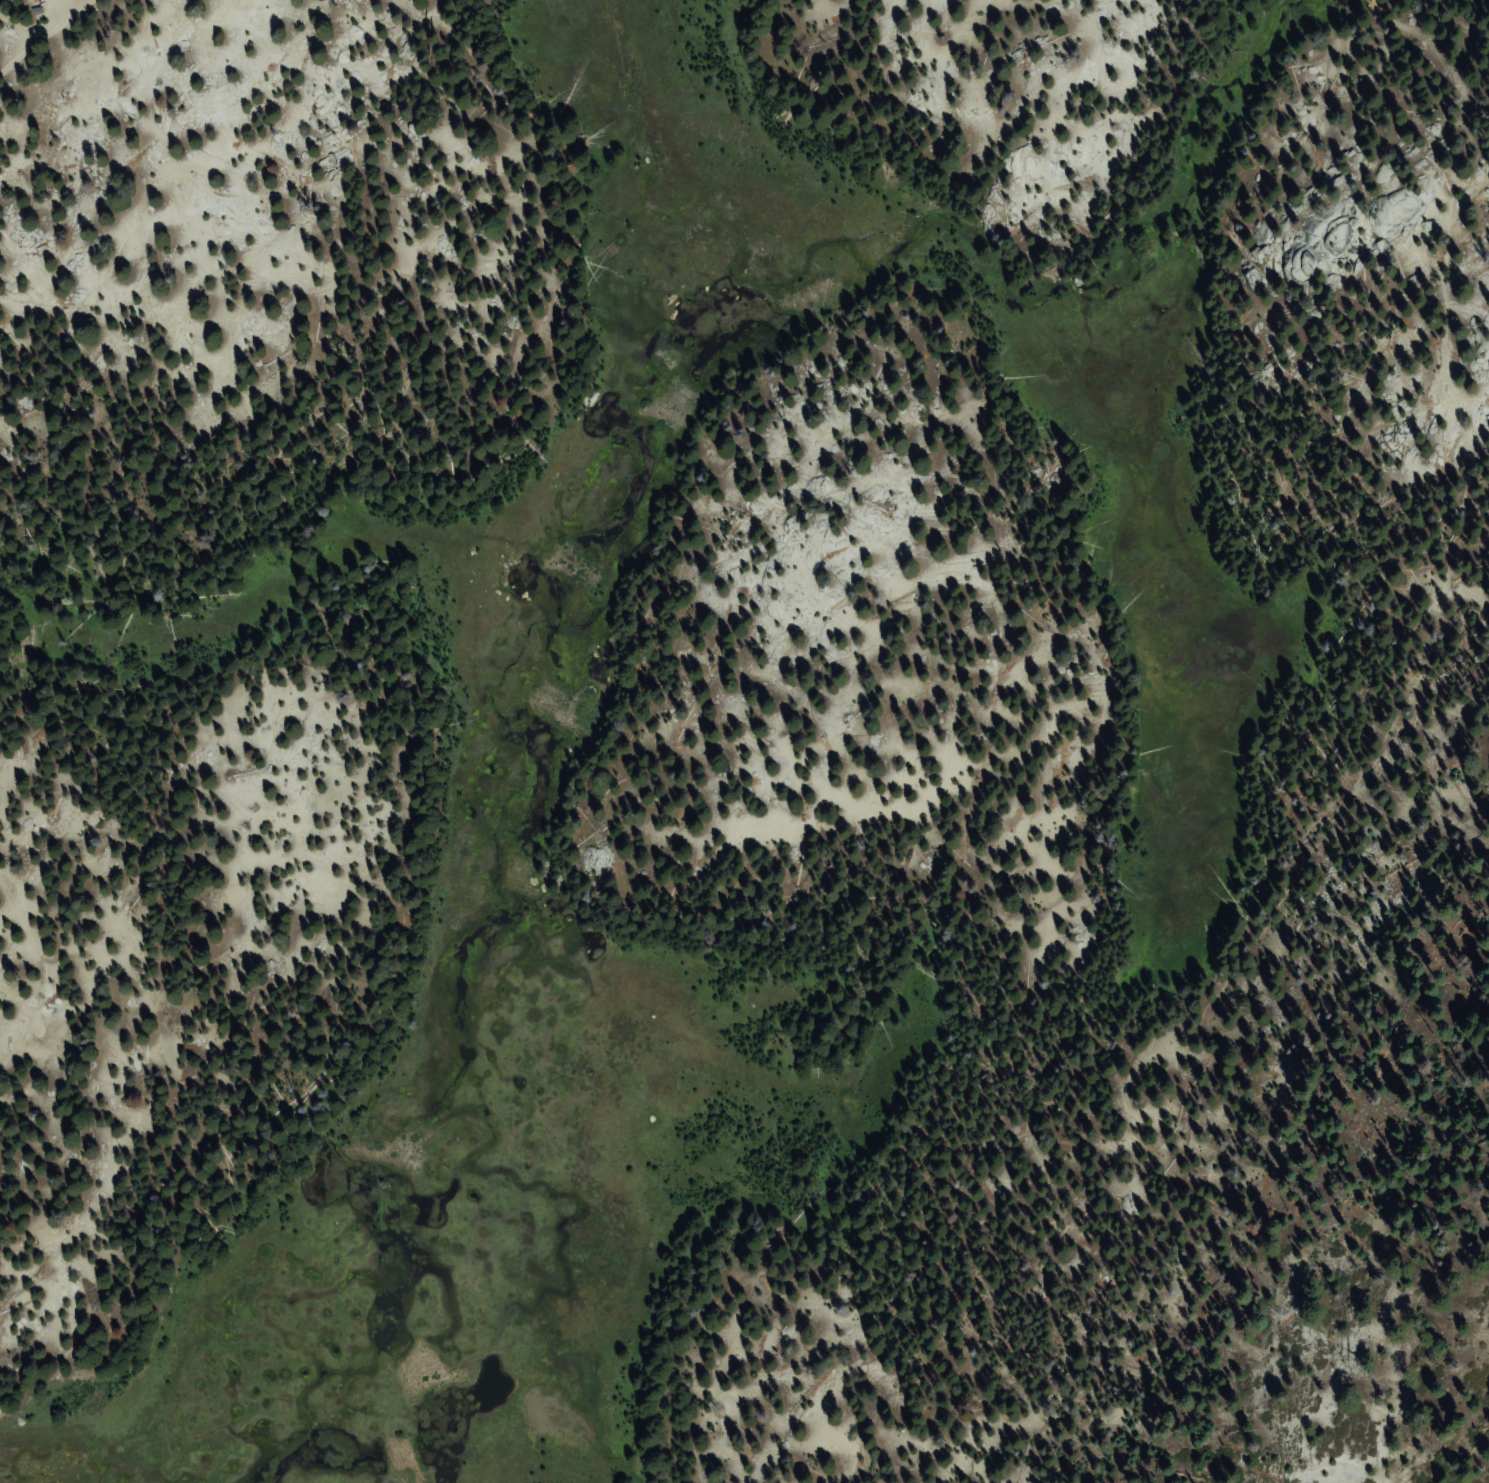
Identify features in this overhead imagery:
road: (1426, 24)
road: (21, 25)
road: (39, 46)

